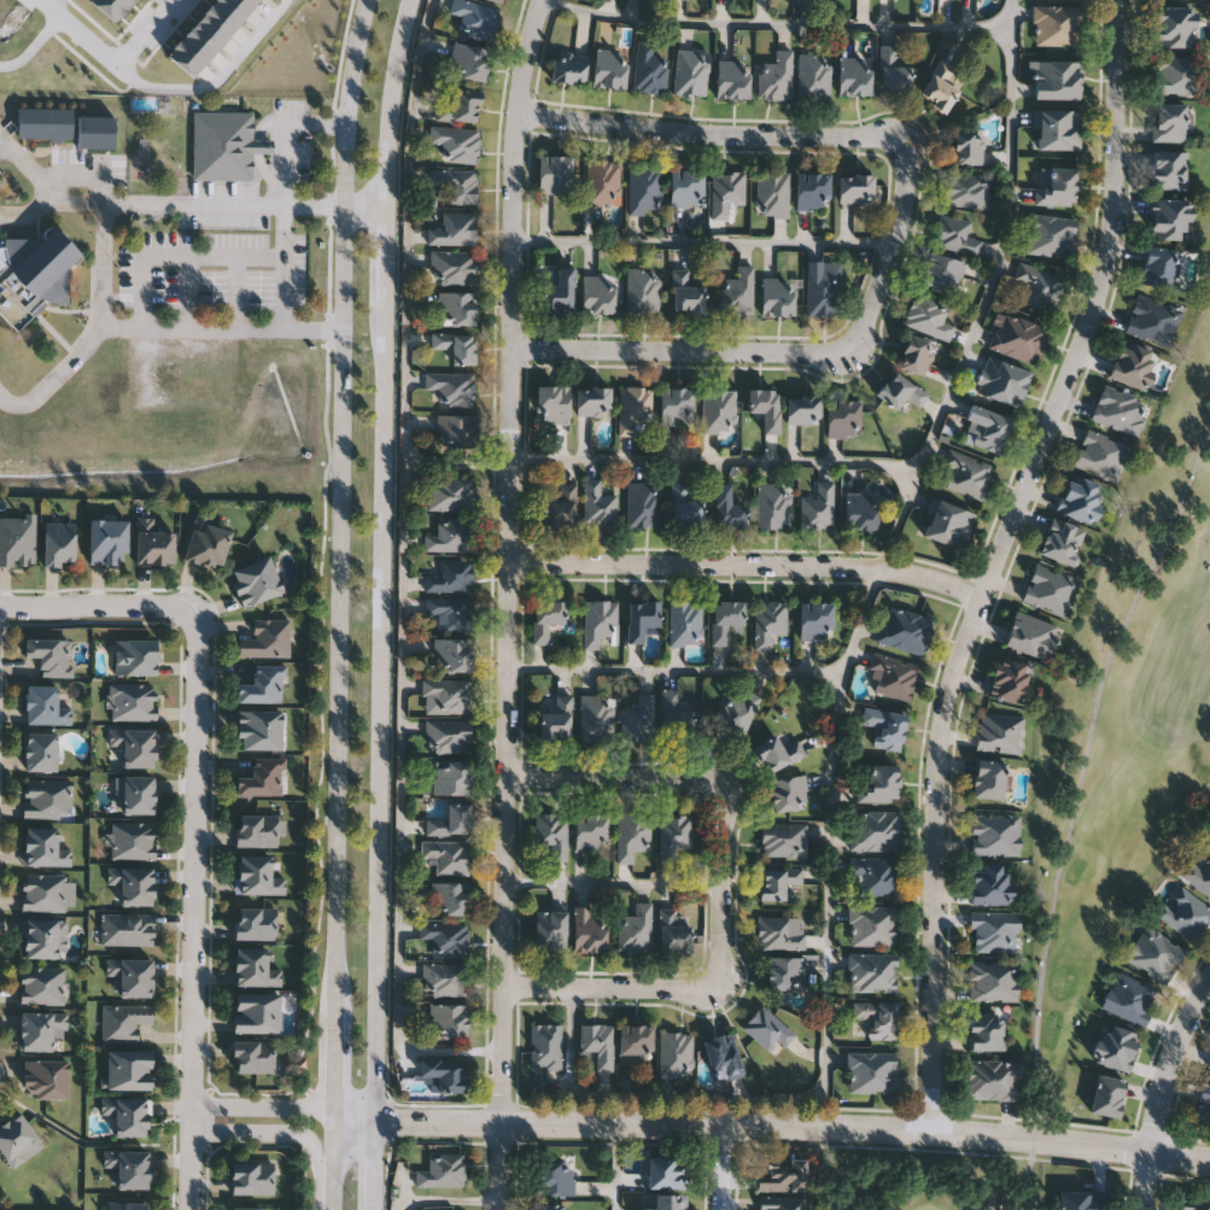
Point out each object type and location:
building: (501, 0)
building: (808, 0)
building: (125, 2)
building: (252, 2)
road: (59, 5)
building: (236, 7)
building: (109, 8)
road: (1006, 12)
building: (221, 17)
building: (477, 17)
building: (1175, 24)
building: (1058, 25)
building: (207, 31)
road: (82, 33)
road: (148, 33)
road: (34, 45)
building: (195, 47)
building: (183, 62)
building: (569, 66)
building: (609, 66)
building: (649, 68)
building: (893, 69)
building: (691, 71)
building: (854, 74)
building: (1176, 74)
building: (776, 75)
building: (813, 75)
building: (1056, 77)
building: (732, 78)
road: (1007, 80)
road: (217, 81)
building: (941, 84)
building: (461, 105)
building: (1169, 119)
building: (46, 122)
road: (300, 125)
building: (1057, 128)
building: (97, 131)
road: (817, 135)
building: (456, 142)
building: (226, 145)
building: (968, 146)
road: (258, 148)
road: (280, 165)
building: (1169, 169)
road: (84, 173)
building: (554, 173)
road: (267, 177)
building: (601, 180)
building: (456, 183)
building: (1057, 185)
building: (686, 186)
building: (855, 187)
building: (645, 188)
building: (812, 189)
building: (968, 189)
building: (726, 191)
building: (772, 193)
road: (160, 204)
road: (368, 204)
road: (28, 214)
building: (1169, 217)
building: (454, 227)
building: (955, 234)
building: (1050, 234)
road: (702, 240)
road: (174, 257)
building: (452, 265)
building: (1158, 265)
road: (280, 268)
building: (943, 271)
building: (34, 274)
building: (823, 286)
building: (1037, 287)
building: (643, 288)
building: (559, 290)
building: (688, 290)
building: (737, 290)
road: (187, 293)
building: (598, 293)
road: (234, 294)
building: (778, 296)
building: (456, 306)
building: (929, 316)
building: (1152, 320)
road: (162, 328)
building: (1017, 337)
building: (456, 345)
road: (683, 352)
building: (917, 353)
building: (1133, 363)
road: (53, 375)
building: (1001, 380)
building: (452, 386)
building: (901, 390)
building: (594, 399)
building: (553, 402)
building: (677, 404)
building: (765, 405)
building: (635, 408)
building: (803, 408)
building: (719, 409)
building: (1118, 409)
building: (843, 417)
building: (988, 427)
building: (456, 428)
building: (1101, 454)
road: (715, 462)
building: (966, 472)
building: (450, 492)
building: (1081, 497)
building: (598, 503)
building: (643, 503)
building: (686, 503)
building: (773, 504)
building: (560, 505)
building: (818, 505)
building: (727, 507)
building: (860, 510)
building: (948, 522)
building: (450, 534)
building: (18, 540)
building: (1062, 540)
building: (109, 542)
building: (60, 544)
building: (209, 544)
building: (157, 546)
road: (996, 560)
road: (747, 565)
road: (404, 573)
building: (450, 575)
building: (257, 581)
building: (1050, 589)
road: (507, 602)
road: (340, 603)
road: (382, 603)
road: (98, 609)
building: (450, 610)
building: (546, 618)
building: (643, 618)
building: (726, 618)
building: (816, 619)
building: (600, 620)
road: (861, 620)
building: (685, 621)
building: (768, 621)
building: (905, 630)
building: (1031, 635)
building: (267, 639)
building: (452, 654)
building: (51, 656)
building: (136, 657)
road: (674, 670)
building: (892, 677)
building: (1011, 679)
building: (263, 685)
building: (450, 694)
building: (134, 702)
building: (43, 706)
building: (737, 713)
building: (674, 714)
building: (556, 717)
building: (596, 717)
building: (637, 718)
building: (885, 726)
building: (261, 730)
building: (1000, 731)
building: (448, 735)
building: (136, 746)
building: (777, 752)
building: (42, 753)
road: (610, 776)
building: (263, 777)
building: (452, 777)
building: (988, 779)
building: (877, 782)
park: (1100, 788)
building: (788, 793)
building: (140, 795)
building: (48, 797)
building: (451, 819)
building: (258, 830)
building: (873, 830)
building: (551, 831)
building: (591, 831)
building: (631, 834)
building: (674, 834)
building: (994, 834)
building: (783, 838)
building: (135, 840)
building: (45, 847)
building: (446, 853)
building: (876, 873)
building: (1198, 873)
building: (257, 876)
building: (776, 881)
road: (614, 882)
road: (724, 883)
building: (990, 883)
building: (134, 884)
building: (49, 892)
building: (449, 896)
road: (194, 910)
building: (1183, 912)
building: (256, 923)
building: (872, 925)
building: (550, 928)
building: (589, 928)
building: (635, 928)
building: (674, 929)
building: (129, 930)
building: (993, 930)
building: (778, 933)
building: (446, 935)
building: (46, 939)
building: (1155, 952)
building: (255, 968)
building: (873, 971)
building: (785, 972)
building: (133, 975)
building: (444, 977)
building: (993, 980)
building: (43, 984)
road: (609, 988)
building: (1129, 998)
building: (258, 1013)
building: (877, 1017)
building: (448, 1019)
building: (125, 1022)
building: (767, 1027)
building: (987, 1030)
building: (42, 1031)
building: (636, 1041)
building: (598, 1042)
building: (545, 1044)
building: (1115, 1046)
building: (676, 1052)
road: (828, 1054)
building: (723, 1056)
building: (253, 1057)
building: (1209, 1065)
building: (130, 1070)
building: (871, 1071)
building: (442, 1075)
building: (46, 1079)
building: (994, 1079)
road: (1163, 1091)
building: (1107, 1094)
building: (1203, 1105)
road: (264, 1111)
building: (129, 1115)
road: (772, 1126)
road: (281, 1133)
road: (616, 1167)
road: (723, 1168)
building: (133, 1169)
building: (443, 1170)
building: (667, 1173)
building: (781, 1176)
building: (253, 1179)
building: (565, 1181)
building: (1076, 1200)
building: (668, 1203)
building: (781, 1203)
building: (1194, 1205)
building: (129, 1206)
building: (550, 1208)
building: (249, 1209)

